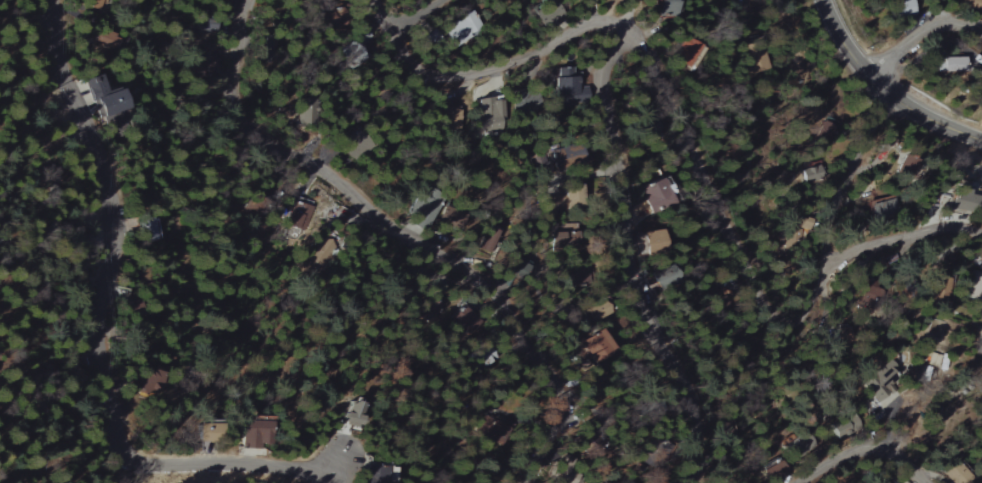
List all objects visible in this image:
building: (667, 8)
building: (901, 8)
road: (746, 10)
road: (428, 13)
building: (549, 14)
building: (462, 27)
building: (689, 54)
building: (944, 64)
building: (567, 84)
road: (883, 90)
building: (104, 97)
building: (524, 104)
building: (491, 115)
road: (880, 123)
road: (693, 134)
building: (565, 158)
building: (906, 166)
building: (811, 174)
building: (654, 195)
building: (963, 203)
building: (422, 207)
building: (883, 209)
building: (298, 216)
building: (451, 218)
building: (148, 229)
road: (399, 237)
building: (653, 239)
road: (632, 248)
building: (317, 256)
building: (974, 286)
building: (463, 321)
road: (98, 331)
building: (597, 346)
building: (350, 414)
road: (888, 423)
building: (256, 431)
building: (801, 445)
road: (861, 452)
building: (377, 474)

